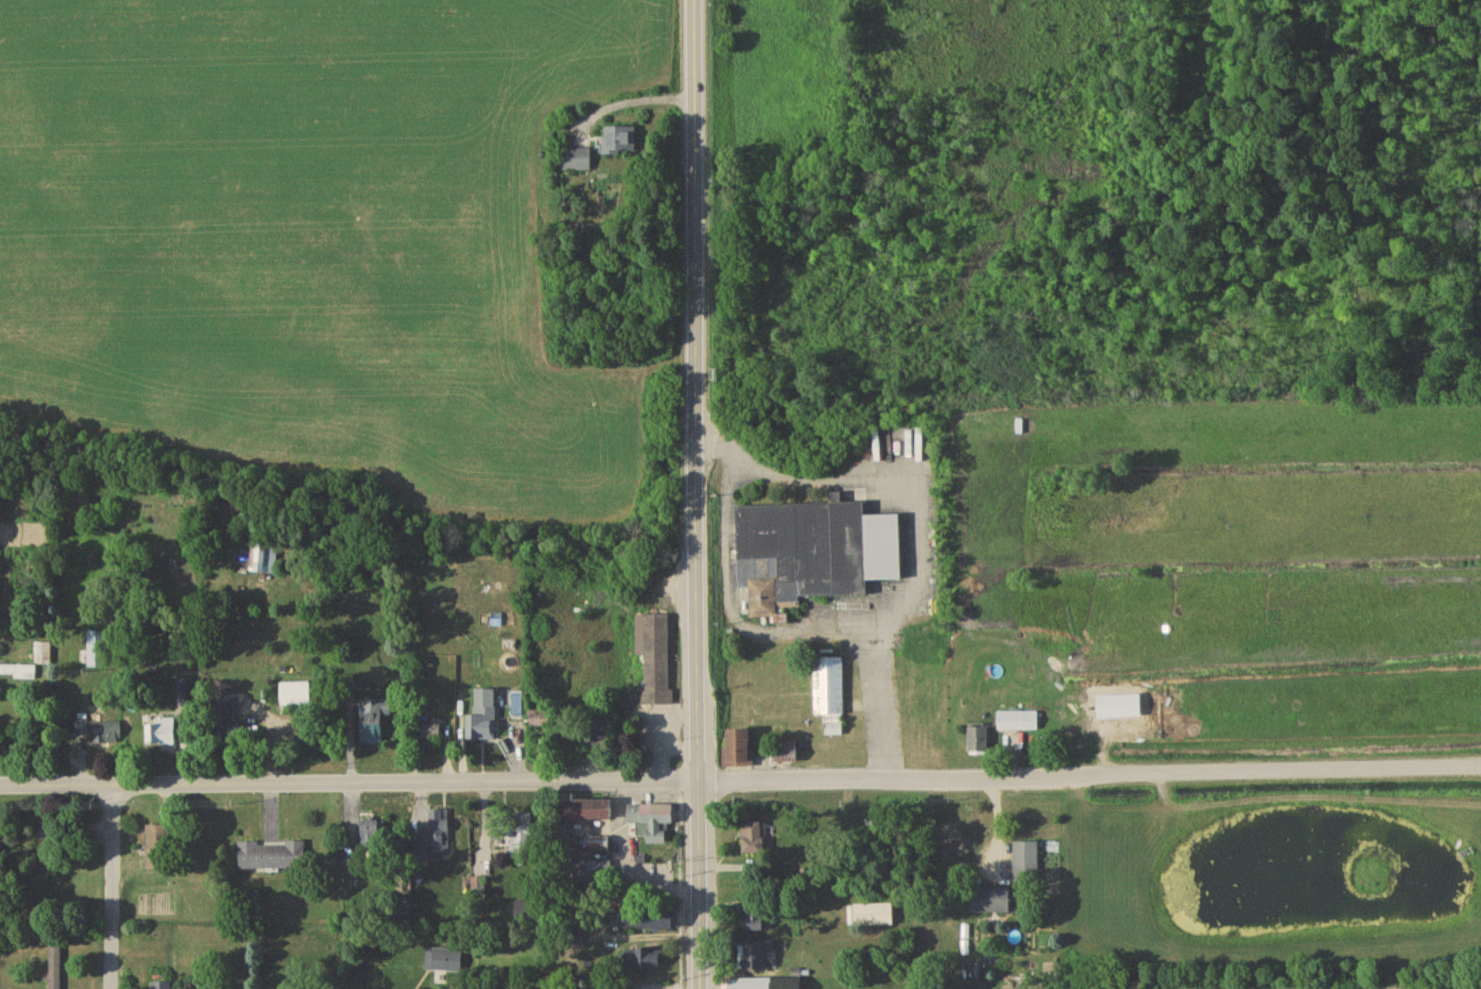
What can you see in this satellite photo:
road: (628, 90)
building: (621, 142)
building: (577, 162)
road: (696, 494)
road: (920, 514)
building: (814, 555)
building: (431, 583)
road: (733, 612)
building: (98, 651)
building: (44, 655)
building: (655, 662)
building: (830, 696)
building: (297, 697)
building: (485, 719)
building: (375, 722)
building: (1019, 723)
building: (431, 730)
building: (98, 736)
building: (164, 736)
building: (979, 743)
building: (739, 751)
building: (787, 755)
road: (740, 779)
building: (591, 813)
building: (653, 824)
building: (440, 831)
building: (49, 836)
building: (521, 838)
road: (354, 839)
building: (372, 841)
building: (756, 841)
building: (598, 846)
building: (158, 851)
building: (273, 858)
road: (626, 861)
building: (1027, 866)
building: (595, 875)
road: (112, 887)
building: (991, 903)
building: (531, 914)
building: (873, 918)
building: (657, 924)
building: (760, 960)
building: (646, 962)
building: (56, 968)
building: (767, 985)
building: (163, 987)

